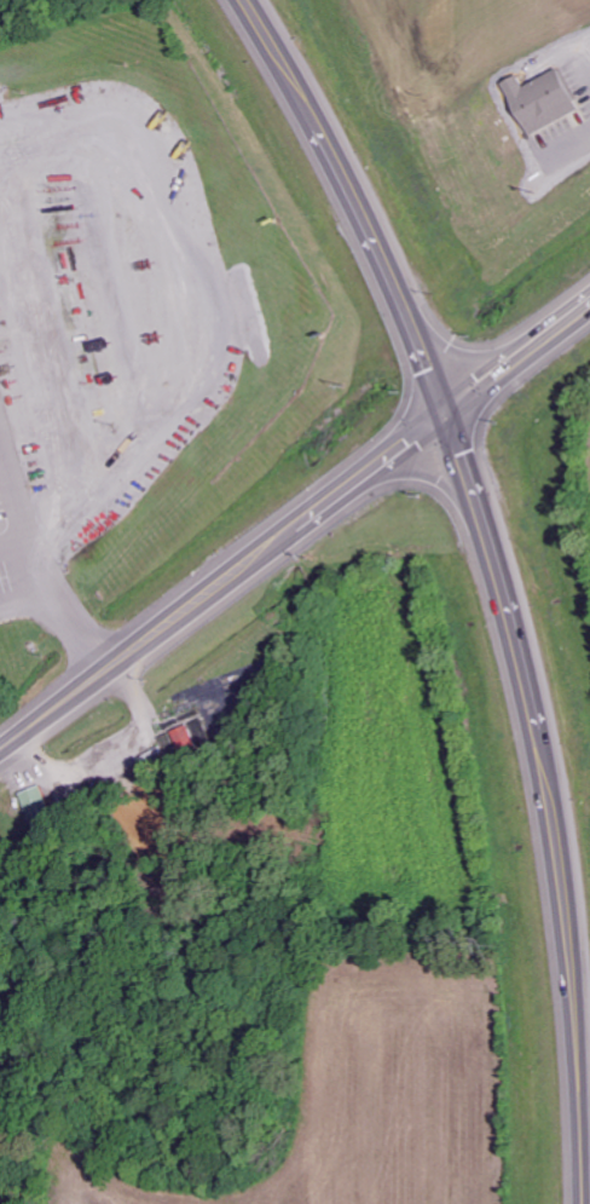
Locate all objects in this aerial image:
building: (540, 100)
road: (435, 421)
road: (501, 577)
road: (141, 643)
building: (36, 801)

